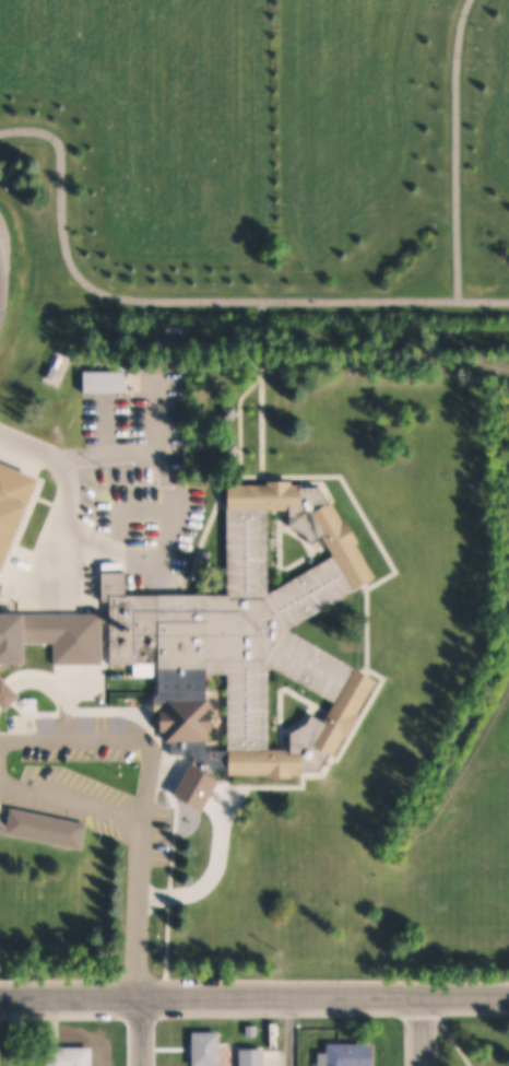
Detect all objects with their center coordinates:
road: (454, 150)
park: (52, 223)
road: (190, 302)
storage tank: (57, 367)
building: (104, 382)
parking lot: (156, 417)
road: (64, 487)
building: (12, 504)
building: (1, 590)
building: (258, 631)
building: (70, 635)
building: (13, 639)
road: (116, 738)
parking lot: (93, 778)
road: (71, 800)
building: (57, 830)
road: (138, 910)
road: (254, 996)
building: (256, 1030)
road: (139, 1031)
road: (291, 1031)
road: (424, 1031)
road: (449, 1031)
park: (474, 1044)
building: (211, 1049)
building: (354, 1054)
building: (73, 1056)
building: (257, 1057)

